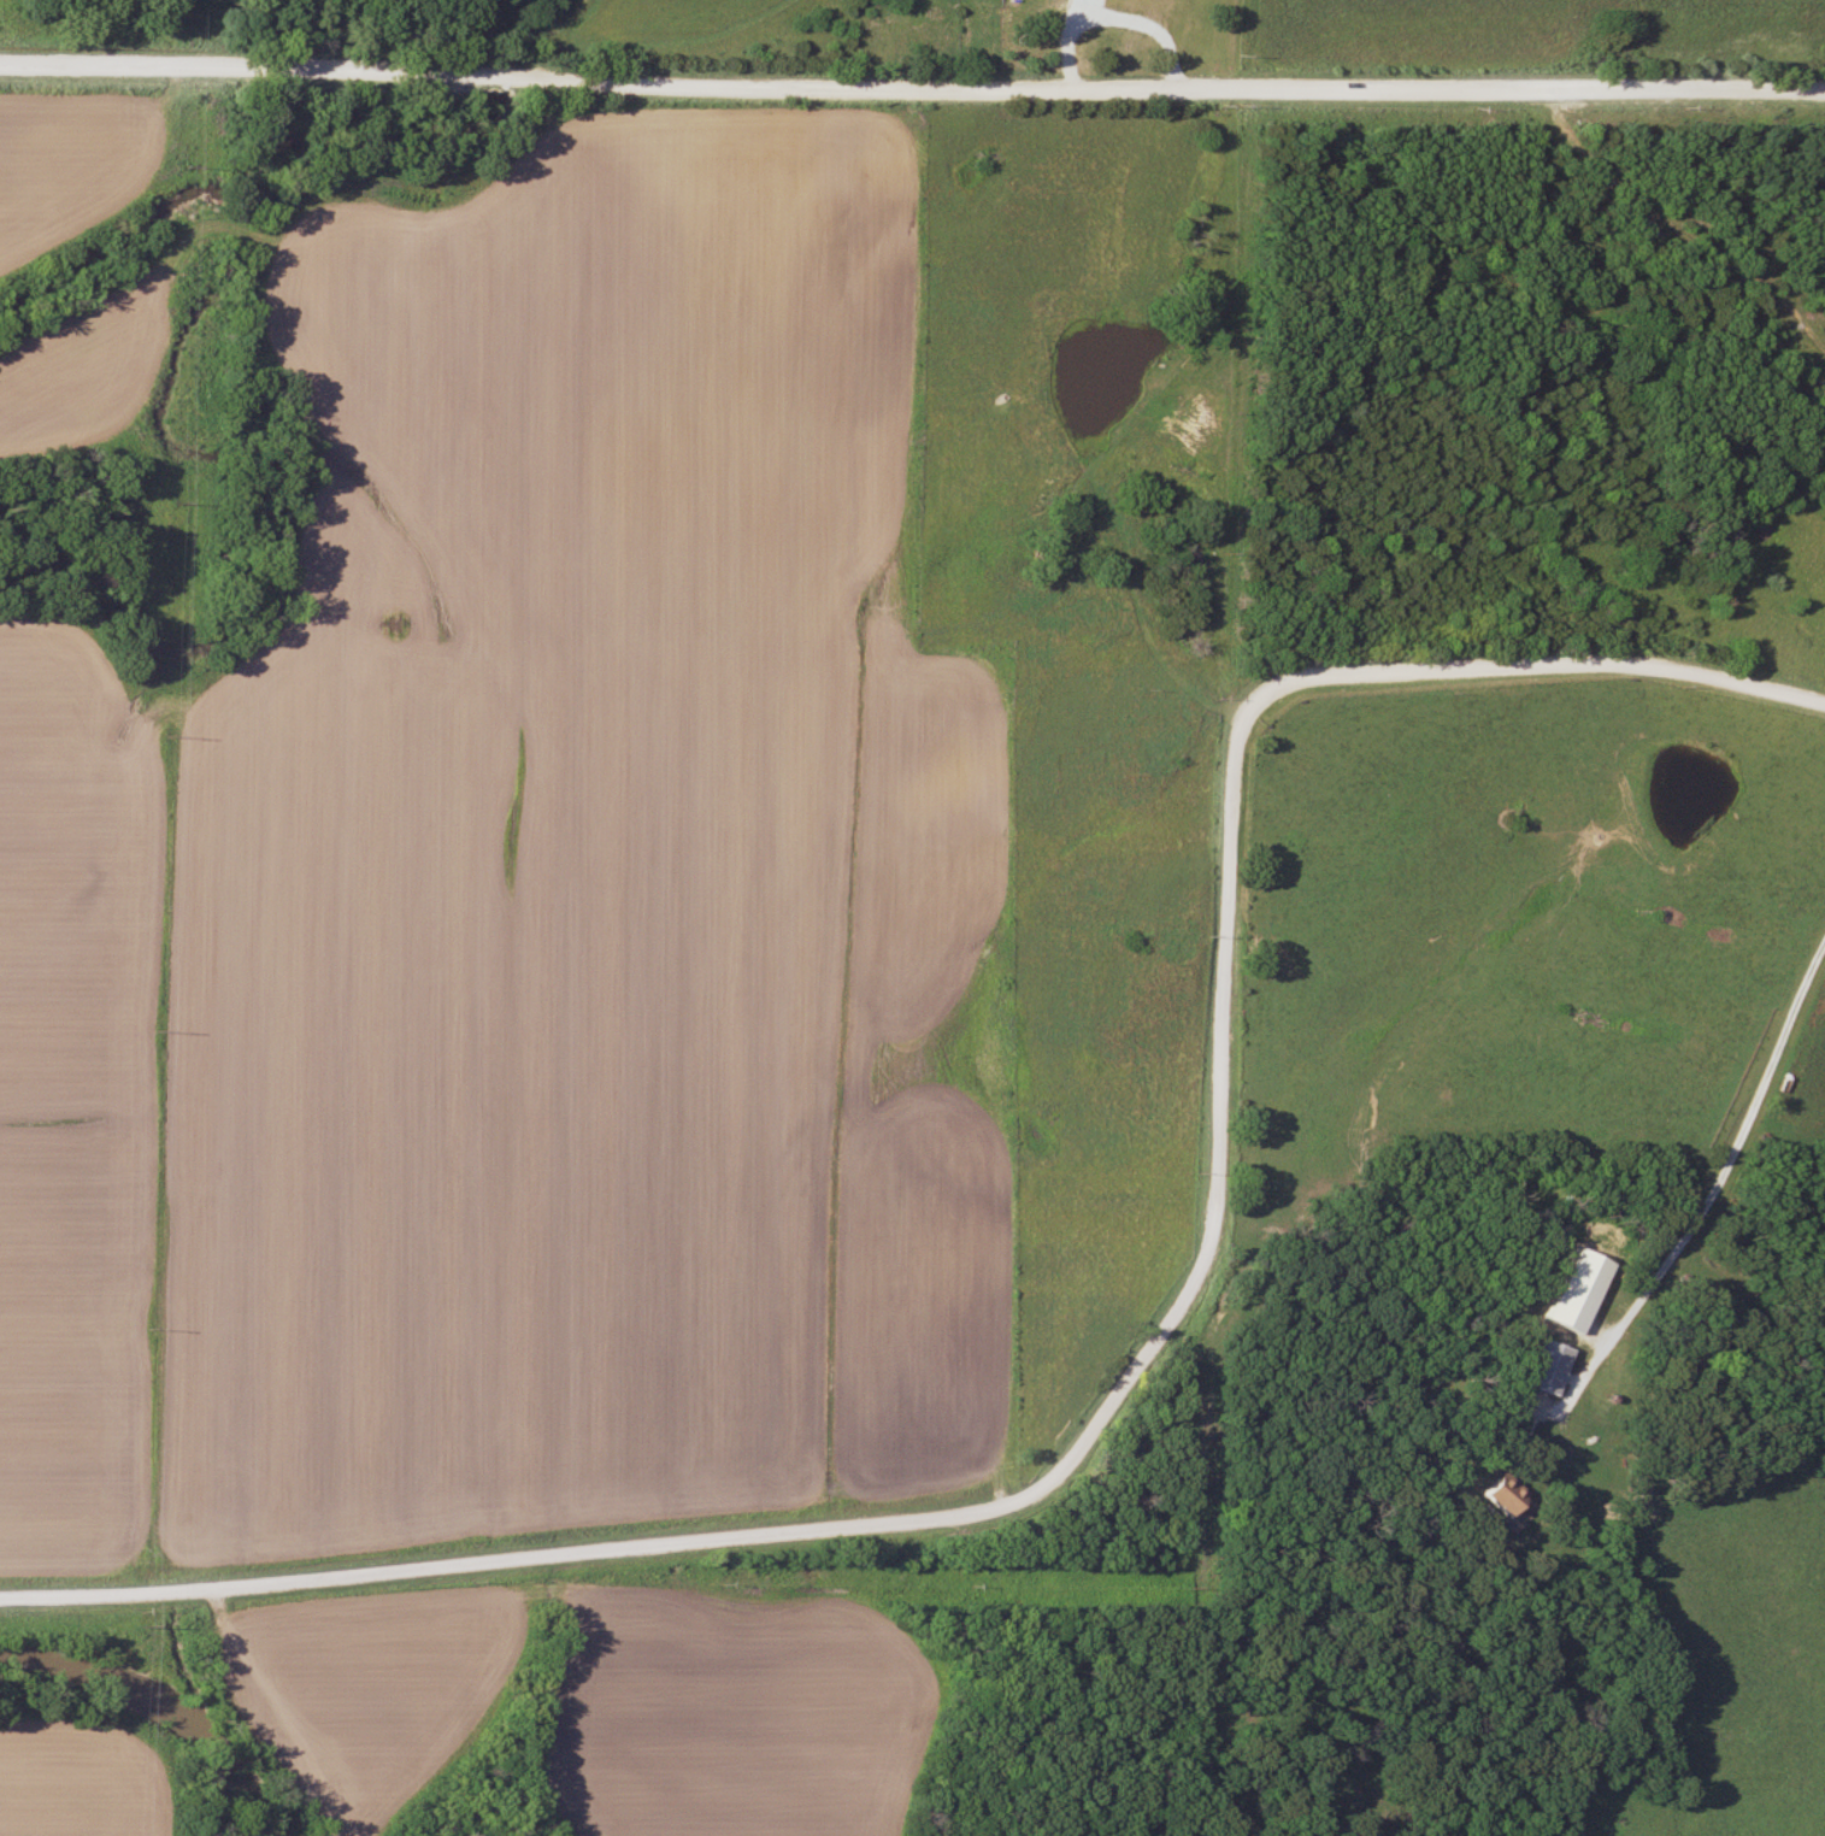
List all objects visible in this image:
river: (523, 31)
river: (498, 77)
road: (912, 88)
river: (243, 194)
road: (1711, 1175)
road: (1161, 1343)
building: (1543, 1366)
building: (1493, 1491)
river: (177, 1688)

